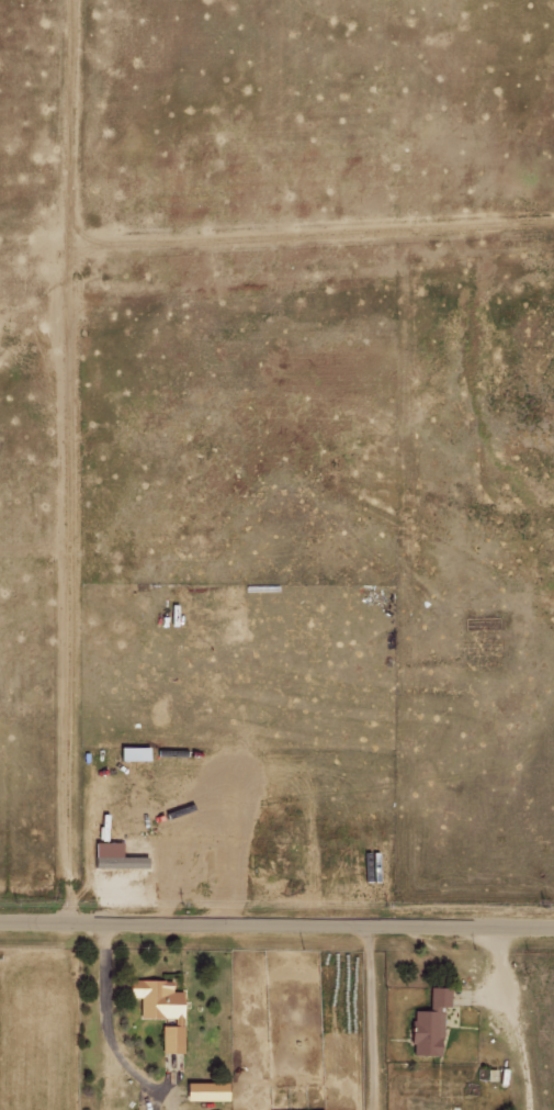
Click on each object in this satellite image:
building: (120, 861)
road: (276, 919)
building: (161, 1009)
building: (428, 1023)
building: (205, 1091)

